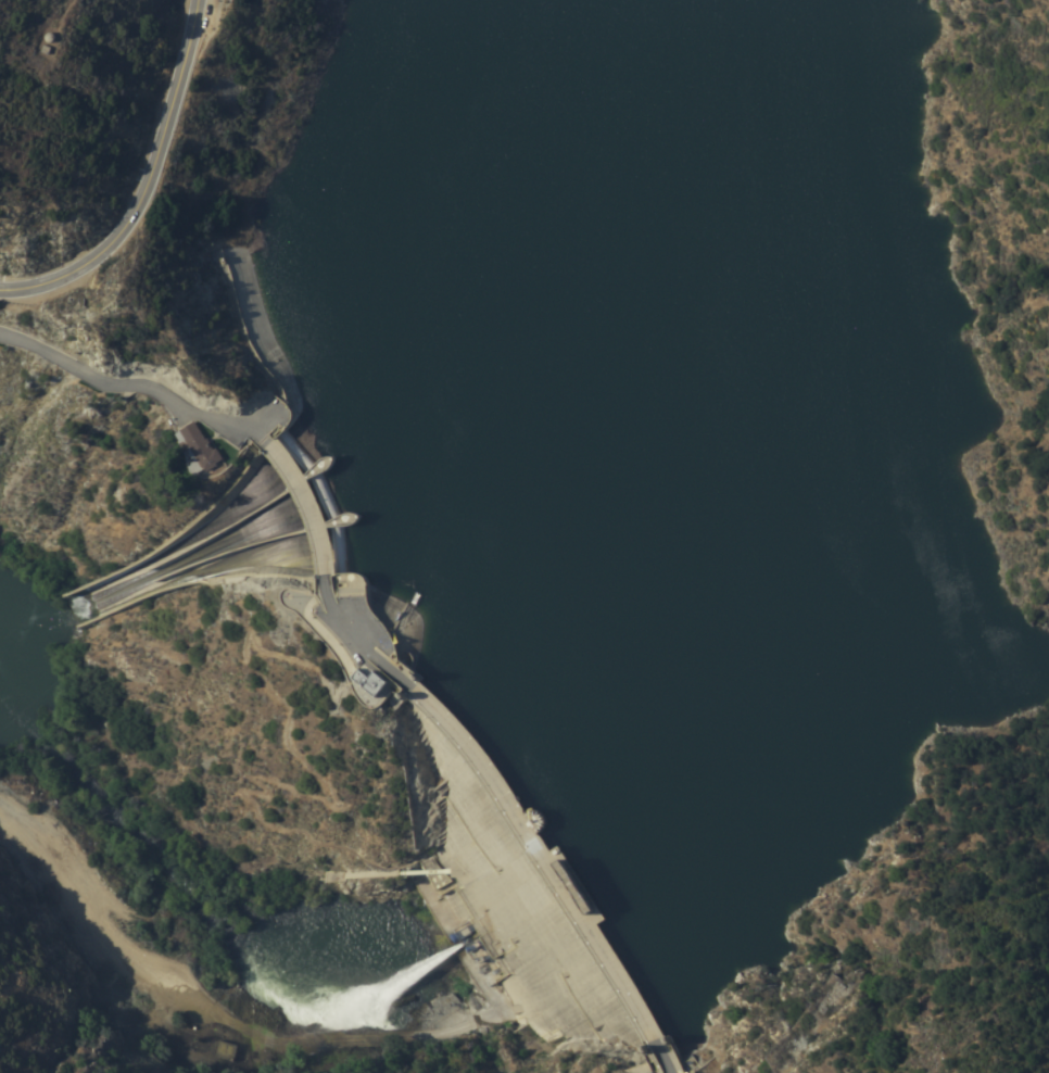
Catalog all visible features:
road: (60, 21)
road: (147, 186)
road: (131, 386)
building: (201, 449)
building: (374, 680)
dam: (412, 750)
building: (582, 899)
river: (199, 905)
river: (517, 918)
road: (217, 1011)
road: (161, 1026)
building: (217, 1051)
building: (205, 1072)

